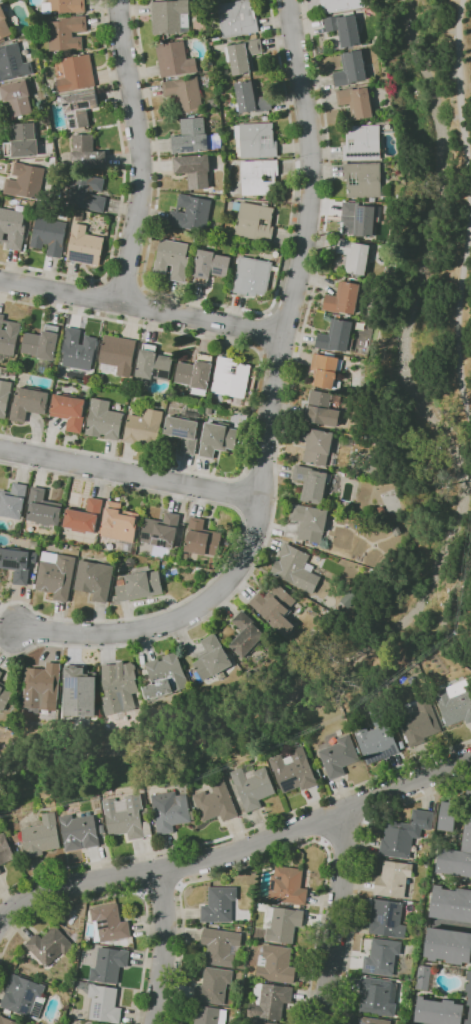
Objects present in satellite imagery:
building: (1, 0)
building: (340, 5)
building: (64, 6)
rooftop solar panel: (242, 15)
building: (171, 16)
building: (237, 18)
building: (4, 24)
building: (344, 29)
building: (67, 33)
building: (243, 55)
rooftop solar panel: (15, 58)
building: (175, 59)
building: (13, 63)
building: (351, 68)
building: (77, 73)
building: (185, 93)
building: (17, 98)
building: (252, 98)
building: (357, 101)
rooftop solar panel: (85, 103)
building: (213, 103)
building: (80, 108)
rooftop solar panel: (72, 120)
building: (192, 136)
building: (217, 136)
rooftop solar panel: (266, 138)
building: (257, 139)
building: (22, 141)
rooftop solar panel: (205, 141)
building: (363, 142)
rooftop solar panel: (189, 147)
road: (138, 149)
rooftop solar panel: (183, 151)
building: (87, 153)
rooftop solar panel: (363, 154)
building: (194, 170)
building: (259, 177)
building: (363, 179)
building: (26, 180)
building: (86, 191)
road: (121, 192)
road: (469, 210)
building: (190, 212)
building: (358, 219)
building: (256, 221)
rooftop solar panel: (264, 223)
building: (12, 228)
building: (50, 236)
building: (85, 245)
building: (355, 255)
rooftop solar panel: (84, 257)
building: (172, 259)
building: (210, 266)
building: (253, 275)
road: (124, 283)
building: (343, 298)
road: (142, 304)
road: (219, 305)
road: (263, 332)
building: (337, 336)
building: (8, 337)
building: (43, 344)
building: (78, 349)
building: (118, 354)
building: (153, 364)
rooftop solar panel: (232, 369)
building: (325, 370)
building: (13, 371)
building: (196, 374)
building: (231, 377)
building: (4, 397)
building: (29, 403)
road: (252, 404)
road: (270, 407)
building: (322, 408)
building: (69, 411)
building: (209, 411)
building: (104, 420)
road: (280, 424)
building: (144, 427)
building: (185, 428)
rooftop solar panel: (181, 432)
building: (217, 439)
building: (316, 444)
road: (132, 472)
building: (312, 483)
building: (13, 500)
building: (43, 507)
building: (84, 516)
building: (310, 521)
building: (119, 523)
building: (161, 530)
rooftop solar panel: (145, 535)
rooftop solar panel: (158, 536)
building: (199, 536)
rooftop solar panel: (163, 542)
road: (237, 542)
building: (128, 549)
building: (172, 555)
building: (130, 561)
rooftop solar panel: (10, 562)
building: (18, 563)
building: (296, 569)
building: (56, 574)
building: (95, 579)
building: (139, 586)
building: (349, 599)
building: (276, 607)
building: (246, 635)
building: (212, 658)
building: (168, 673)
building: (1, 674)
rooftop solar panel: (77, 683)
building: (42, 687)
building: (119, 687)
building: (78, 693)
building: (5, 695)
building: (455, 702)
building: (355, 712)
building: (420, 723)
building: (377, 739)
building: (339, 756)
building: (293, 770)
building: (253, 785)
building: (216, 802)
building: (195, 808)
building: (171, 811)
building: (146, 815)
building: (448, 815)
building: (126, 817)
road: (366, 820)
road: (319, 821)
road: (344, 830)
building: (79, 832)
road: (238, 833)
building: (427, 833)
building: (405, 834)
building: (42, 836)
road: (325, 841)
building: (5, 850)
road: (236, 852)
building: (458, 852)
road: (273, 856)
road: (175, 866)
road: (362, 867)
building: (0, 870)
road: (140, 873)
building: (393, 879)
road: (179, 885)
building: (288, 886)
road: (160, 887)
road: (142, 892)
road: (121, 893)
building: (452, 904)
building: (219, 905)
rooftop solar panel: (392, 914)
road: (337, 915)
rooftop solar panel: (382, 918)
building: (387, 918)
rooftop solar panel: (106, 920)
building: (109, 923)
building: (283, 924)
rooftop solar panel: (107, 926)
building: (239, 929)
building: (49, 945)
building: (221, 946)
road: (164, 947)
building: (449, 948)
building: (382, 957)
building: (109, 965)
building: (276, 965)
building: (469, 975)
building: (426, 977)
building: (213, 986)
building: (469, 992)
rooftop solar panel: (30, 994)
building: (378, 996)
building: (23, 997)
building: (270, 1000)
building: (104, 1004)
rooftop solar panel: (25, 1008)
rooftop solar panel: (97, 1010)
building: (440, 1011)
building: (207, 1014)
building: (469, 1019)
building: (6, 1021)
building: (372, 1021)
building: (88, 1023)
building: (91, 1023)
building: (262, 1023)

